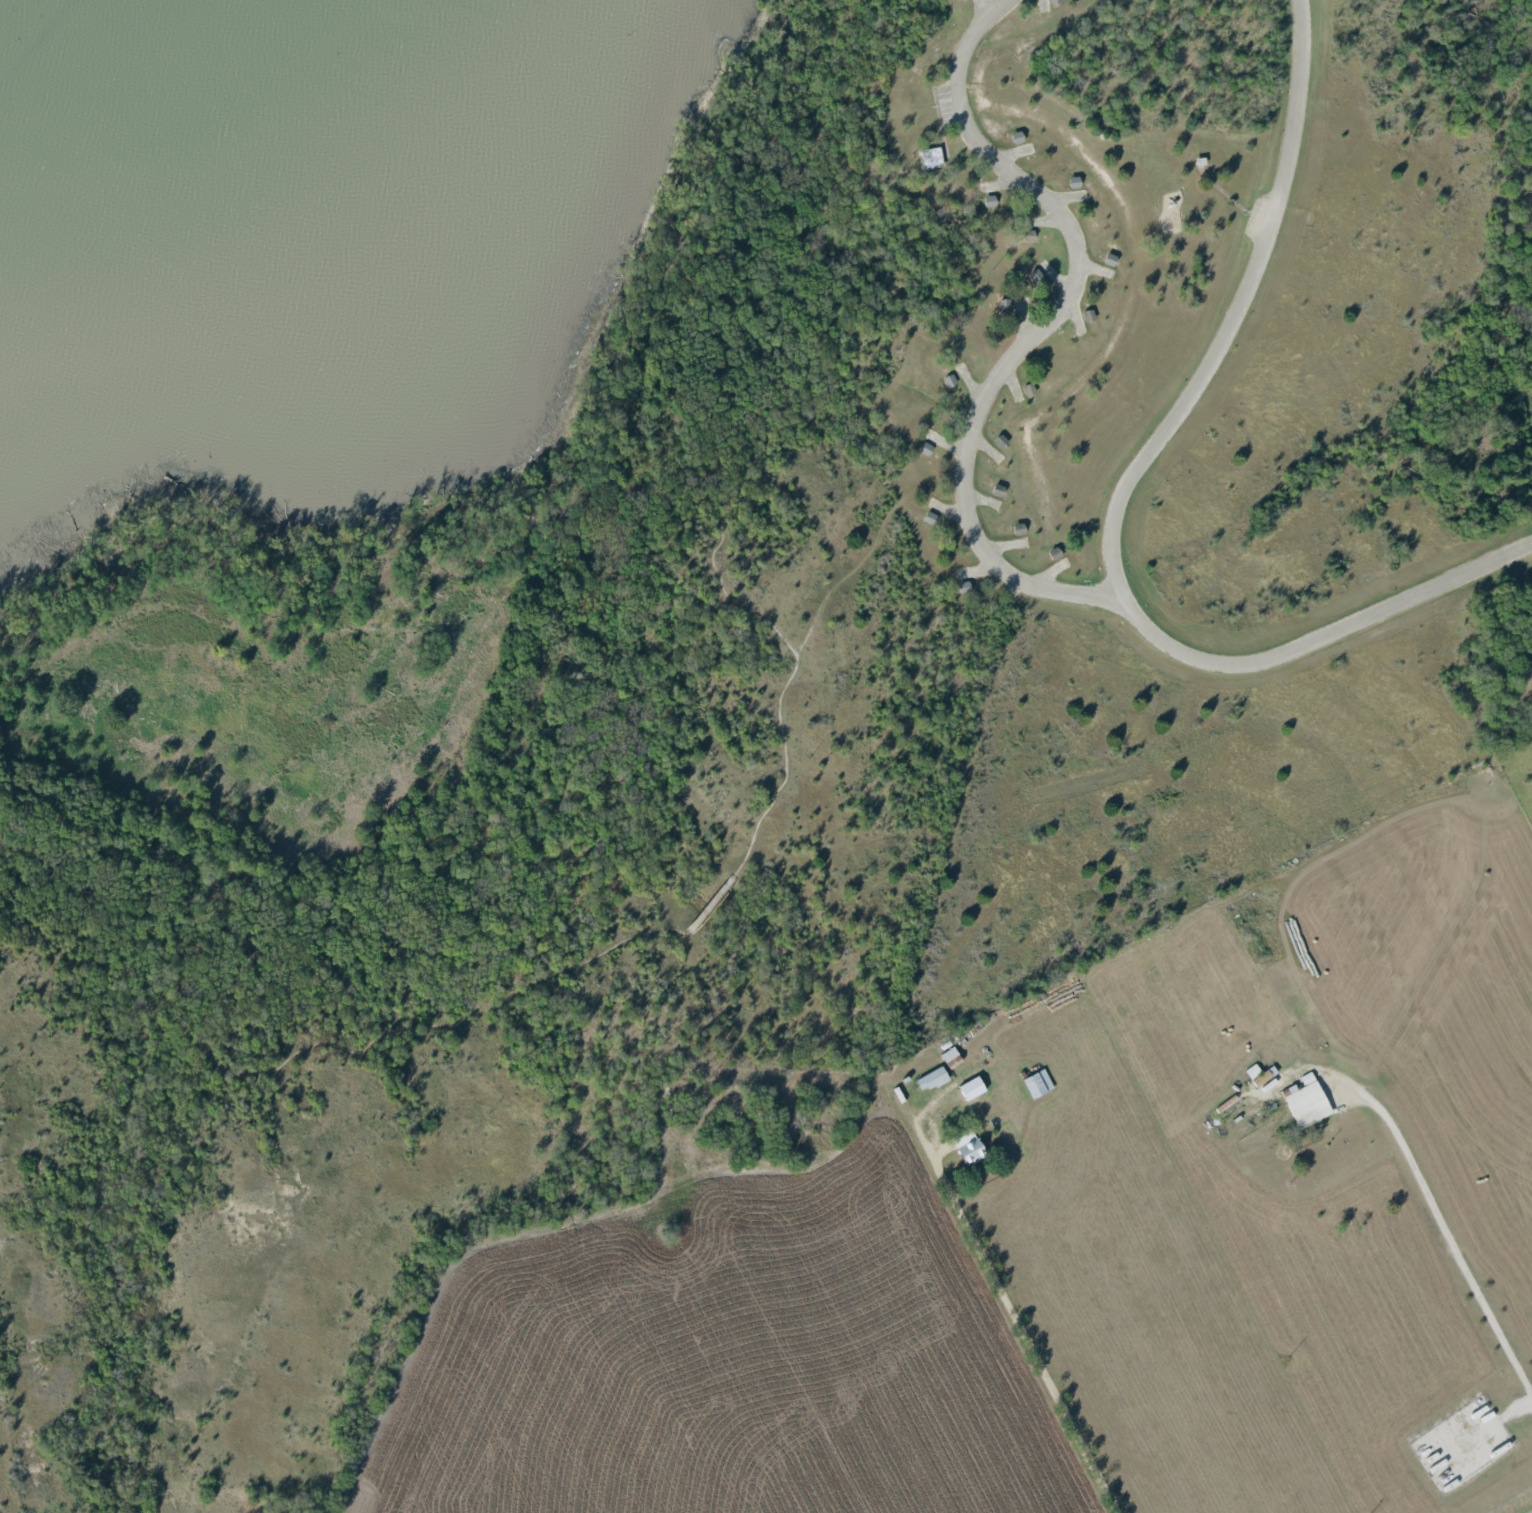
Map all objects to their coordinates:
road: (1189, 175)
road: (1238, 304)
road: (1041, 328)
park: (1195, 433)
road: (1318, 642)
road: (721, 893)
building: (931, 1079)
building: (1037, 1083)
building: (971, 1088)
building: (1306, 1101)
building: (971, 1152)
road: (1451, 1242)
road: (1007, 1299)

